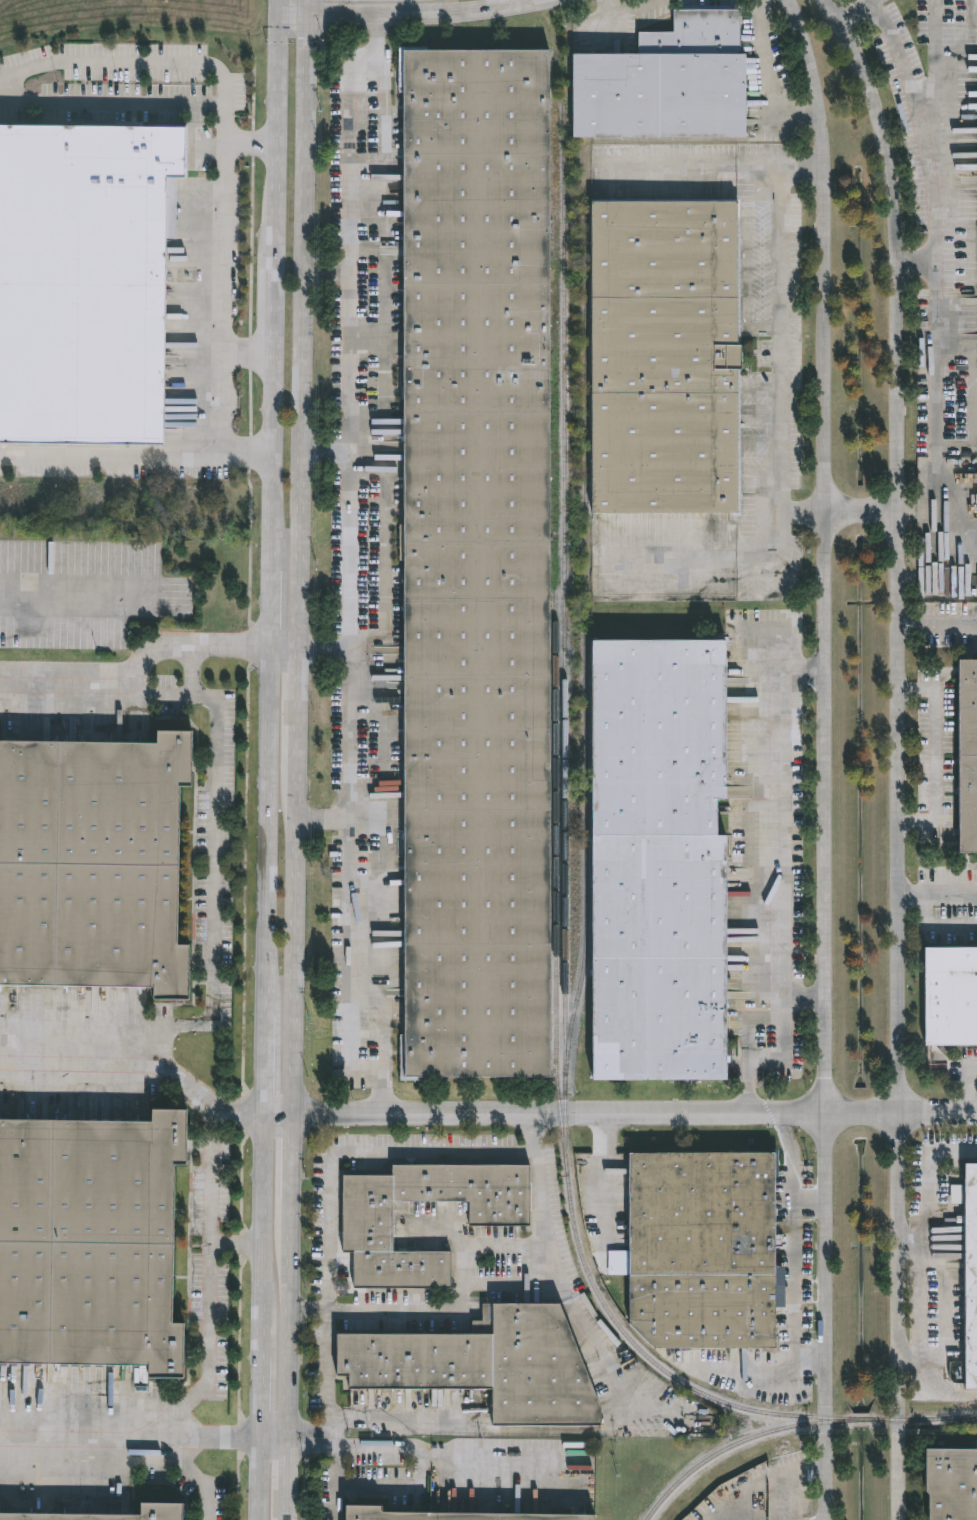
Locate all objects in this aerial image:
road: (279, 6)
road: (306, 7)
road: (860, 11)
traffic signals: (279, 13)
road: (292, 13)
traffic signals: (306, 14)
road: (423, 15)
road: (635, 23)
road: (134, 65)
road: (769, 75)
building: (668, 83)
road: (939, 91)
road: (155, 104)
road: (276, 122)
road: (713, 164)
road: (915, 263)
road: (324, 275)
building: (85, 281)
road: (933, 282)
road: (273, 292)
road: (224, 301)
road: (300, 329)
road: (779, 338)
road: (248, 352)
building: (667, 357)
railway: (585, 422)
road: (323, 452)
road: (135, 457)
road: (269, 460)
road: (905, 508)
road: (930, 508)
road: (386, 550)
road: (772, 554)
building: (479, 563)
road: (349, 569)
road: (266, 608)
road: (281, 646)
road: (323, 647)
road: (780, 650)
road: (133, 669)
road: (295, 684)
road: (899, 753)
road: (936, 755)
building: (969, 755)
road: (826, 757)
railway: (564, 817)
road: (320, 819)
road: (263, 831)
railway: (585, 845)
building: (662, 861)
building: (95, 866)
road: (215, 879)
road: (938, 893)
road: (782, 902)
road: (292, 916)
road: (933, 925)
building: (952, 997)
road: (804, 999)
road: (136, 1060)
road: (260, 1063)
road: (968, 1086)
road: (633, 1107)
road: (275, 1111)
road: (289, 1154)
road: (381, 1154)
road: (927, 1186)
road: (813, 1211)
road: (259, 1219)
building: (370, 1238)
building: (91, 1243)
road: (232, 1247)
building: (705, 1249)
building: (972, 1276)
road: (799, 1280)
road: (920, 1298)
road: (457, 1299)
road: (204, 1301)
road: (571, 1304)
road: (287, 1318)
road: (330, 1352)
building: (489, 1364)
road: (816, 1369)
road: (935, 1379)
road: (258, 1383)
railway: (794, 1424)
road: (464, 1430)
road: (129, 1435)
road: (272, 1438)
road: (332, 1456)
road: (417, 1464)
road: (285, 1471)
road: (194, 1476)
road: (766, 1476)
road: (257, 1479)
building: (953, 1483)
road: (794, 1494)
building: (164, 1509)
road: (284, 1512)
building: (452, 1515)

